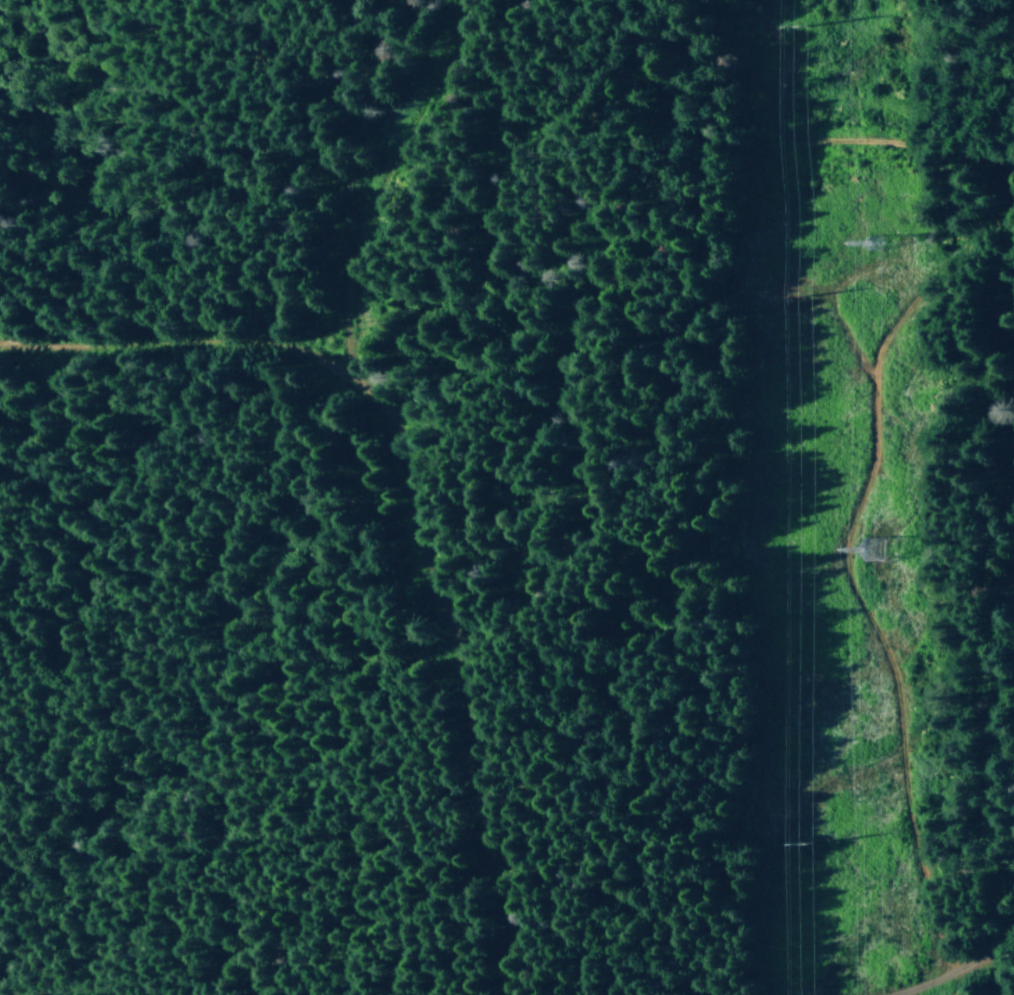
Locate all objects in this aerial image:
power tower: (778, 27)
power tower: (858, 248)
power tower: (786, 297)
power tower: (864, 553)
road: (881, 623)
power tower: (804, 844)

